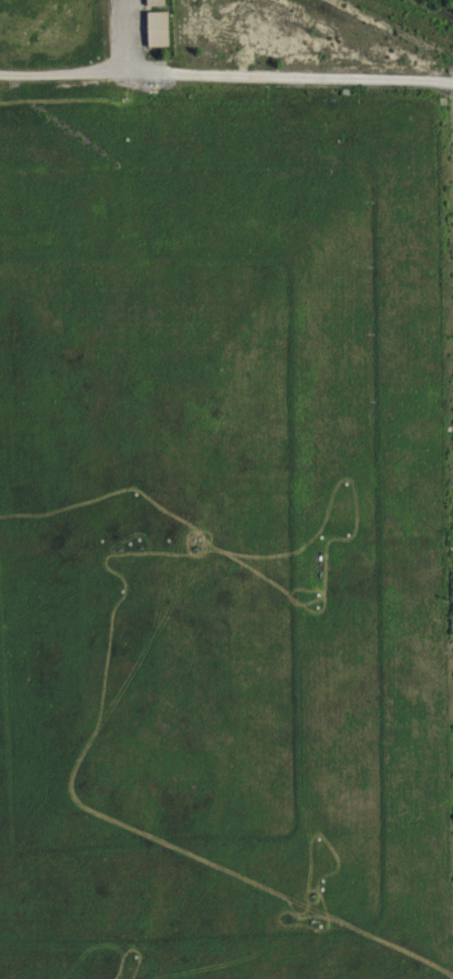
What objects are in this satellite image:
building: (156, 7)
building: (159, 38)
road: (253, 85)

